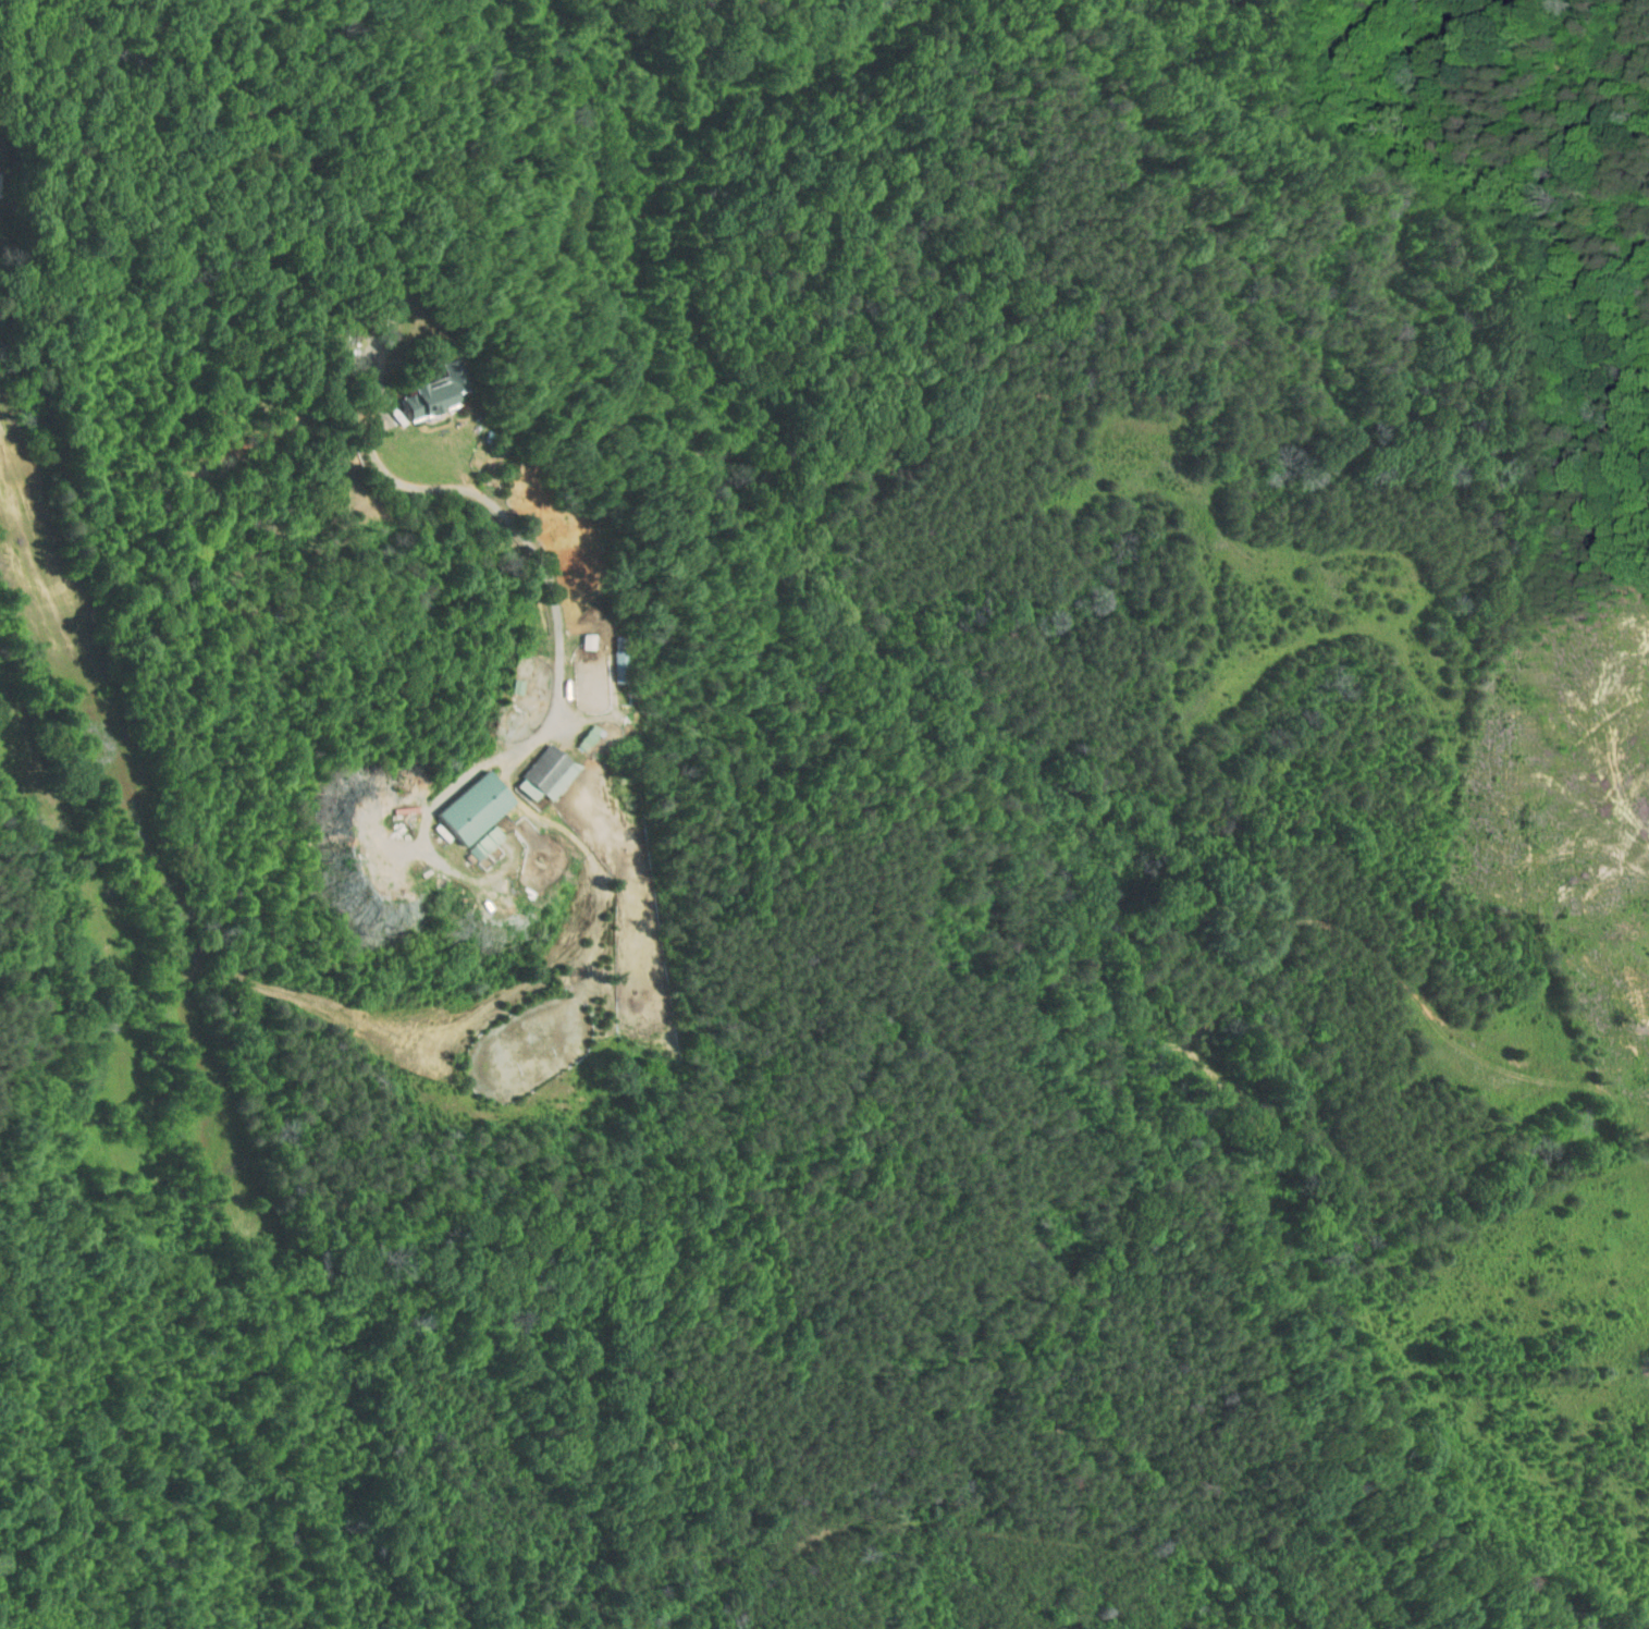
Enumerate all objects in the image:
road: (376, 352)
building: (428, 384)
building: (579, 731)
building: (536, 769)
building: (465, 800)
building: (473, 841)
road: (462, 877)

